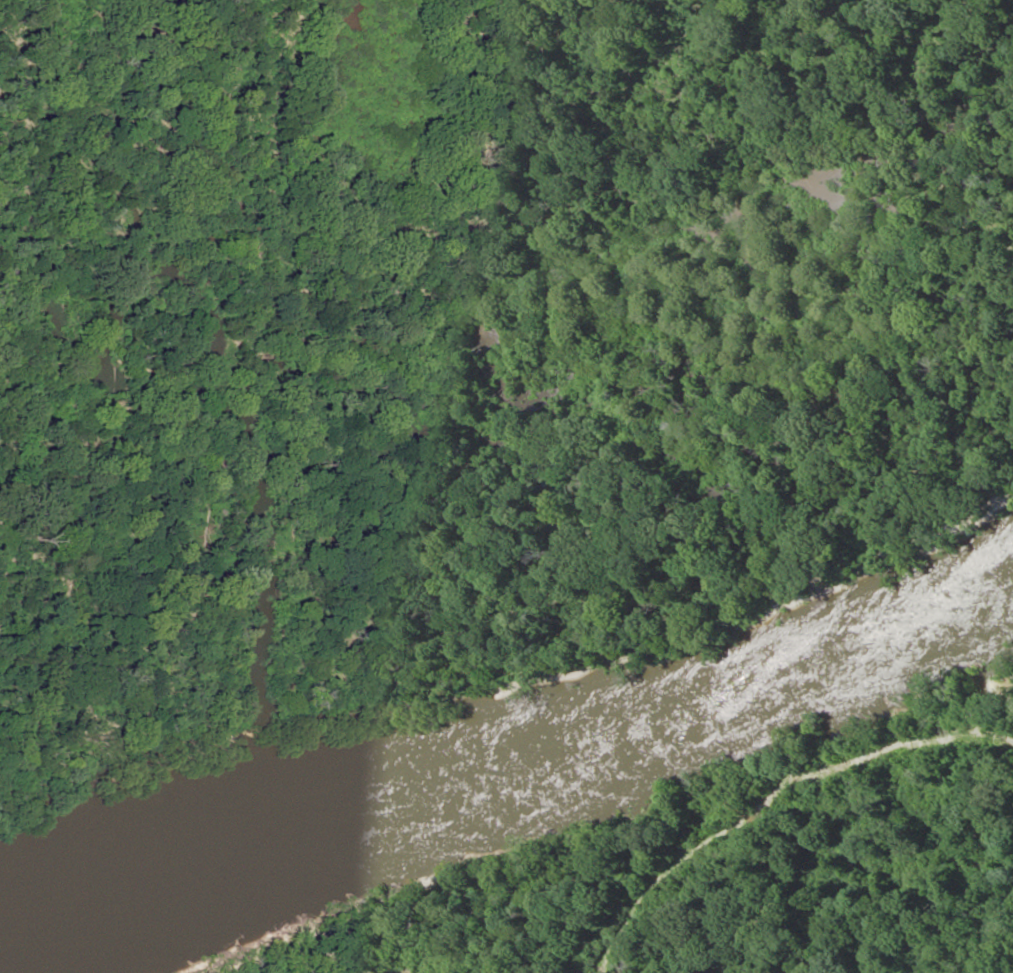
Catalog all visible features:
river: (495, 748)

